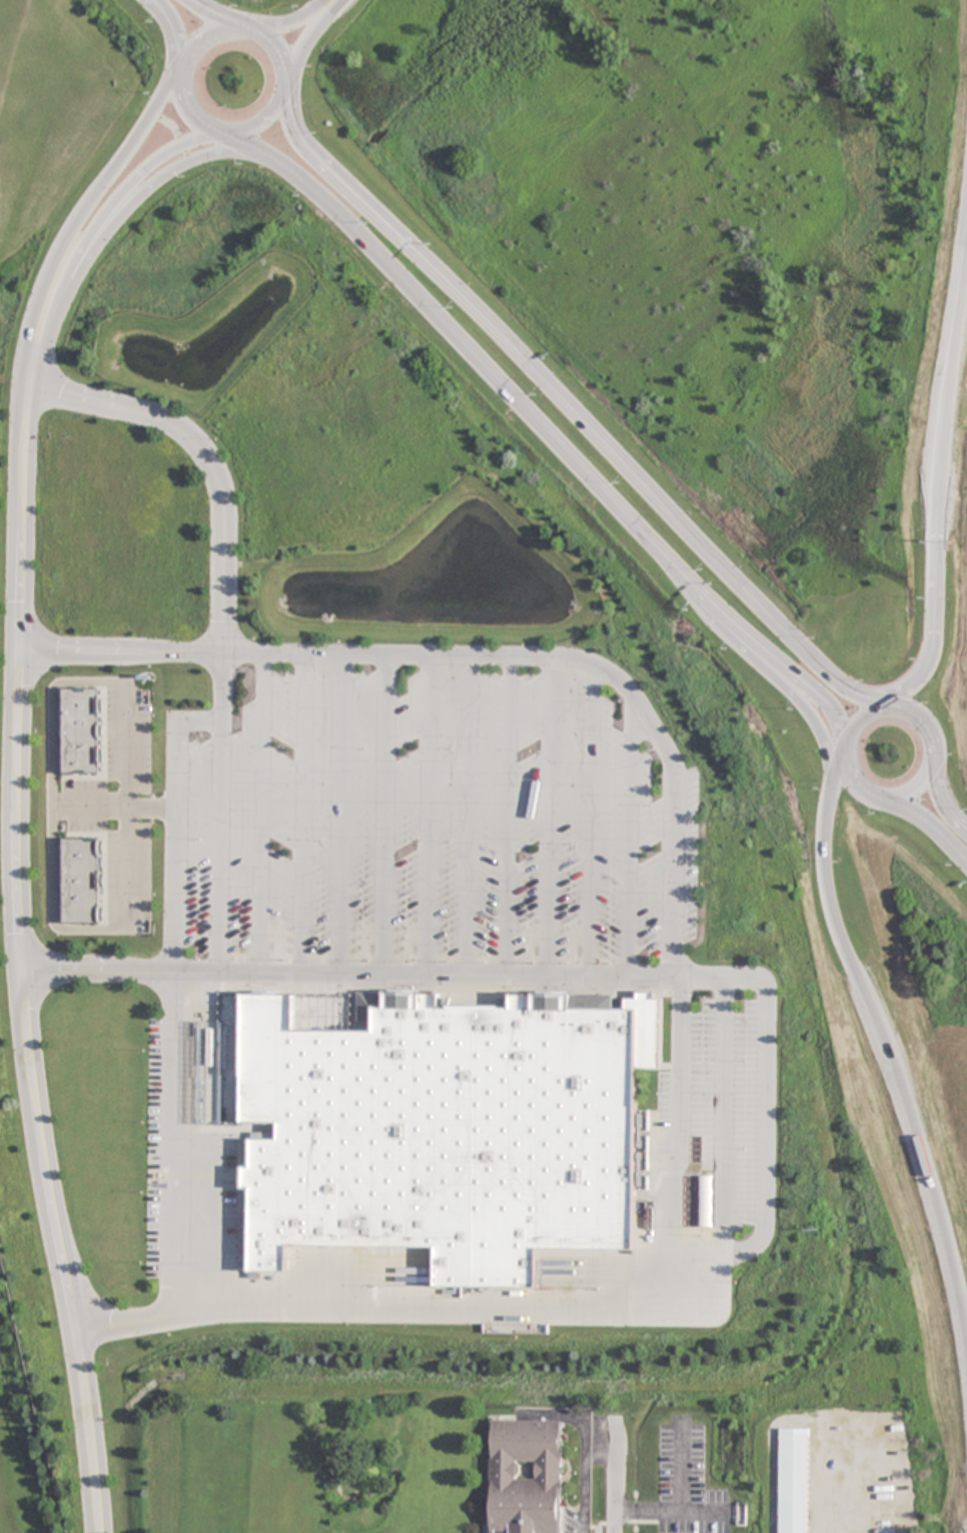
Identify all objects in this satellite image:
road: (334, 1)
road: (209, 11)
road: (291, 19)
road: (174, 29)
road: (198, 36)
road: (308, 36)
road: (280, 47)
road: (191, 110)
road: (261, 126)
crop: (59, 137)
road: (155, 179)
road: (76, 221)
road: (91, 234)
road: (574, 412)
road: (544, 429)
road: (936, 494)
road: (223, 614)
road: (479, 657)
road: (766, 675)
road: (886, 707)
road: (856, 718)
road: (923, 726)
building: (80, 731)
road: (126, 741)
road: (849, 777)
road: (912, 788)
road: (941, 802)
road: (259, 812)
road: (301, 812)
road: (342, 813)
road: (385, 813)
road: (428, 814)
road: (469, 816)
road: (508, 816)
road: (550, 818)
road: (174, 822)
road: (592, 822)
road: (928, 826)
road: (631, 841)
building: (81, 881)
road: (15, 965)
road: (884, 1045)
road: (765, 1111)
road: (723, 1115)
road: (678, 1129)
building: (455, 1133)
road: (172, 1143)
crop: (28, 1345)
road: (615, 1470)
building: (525, 1477)
building: (793, 1480)

